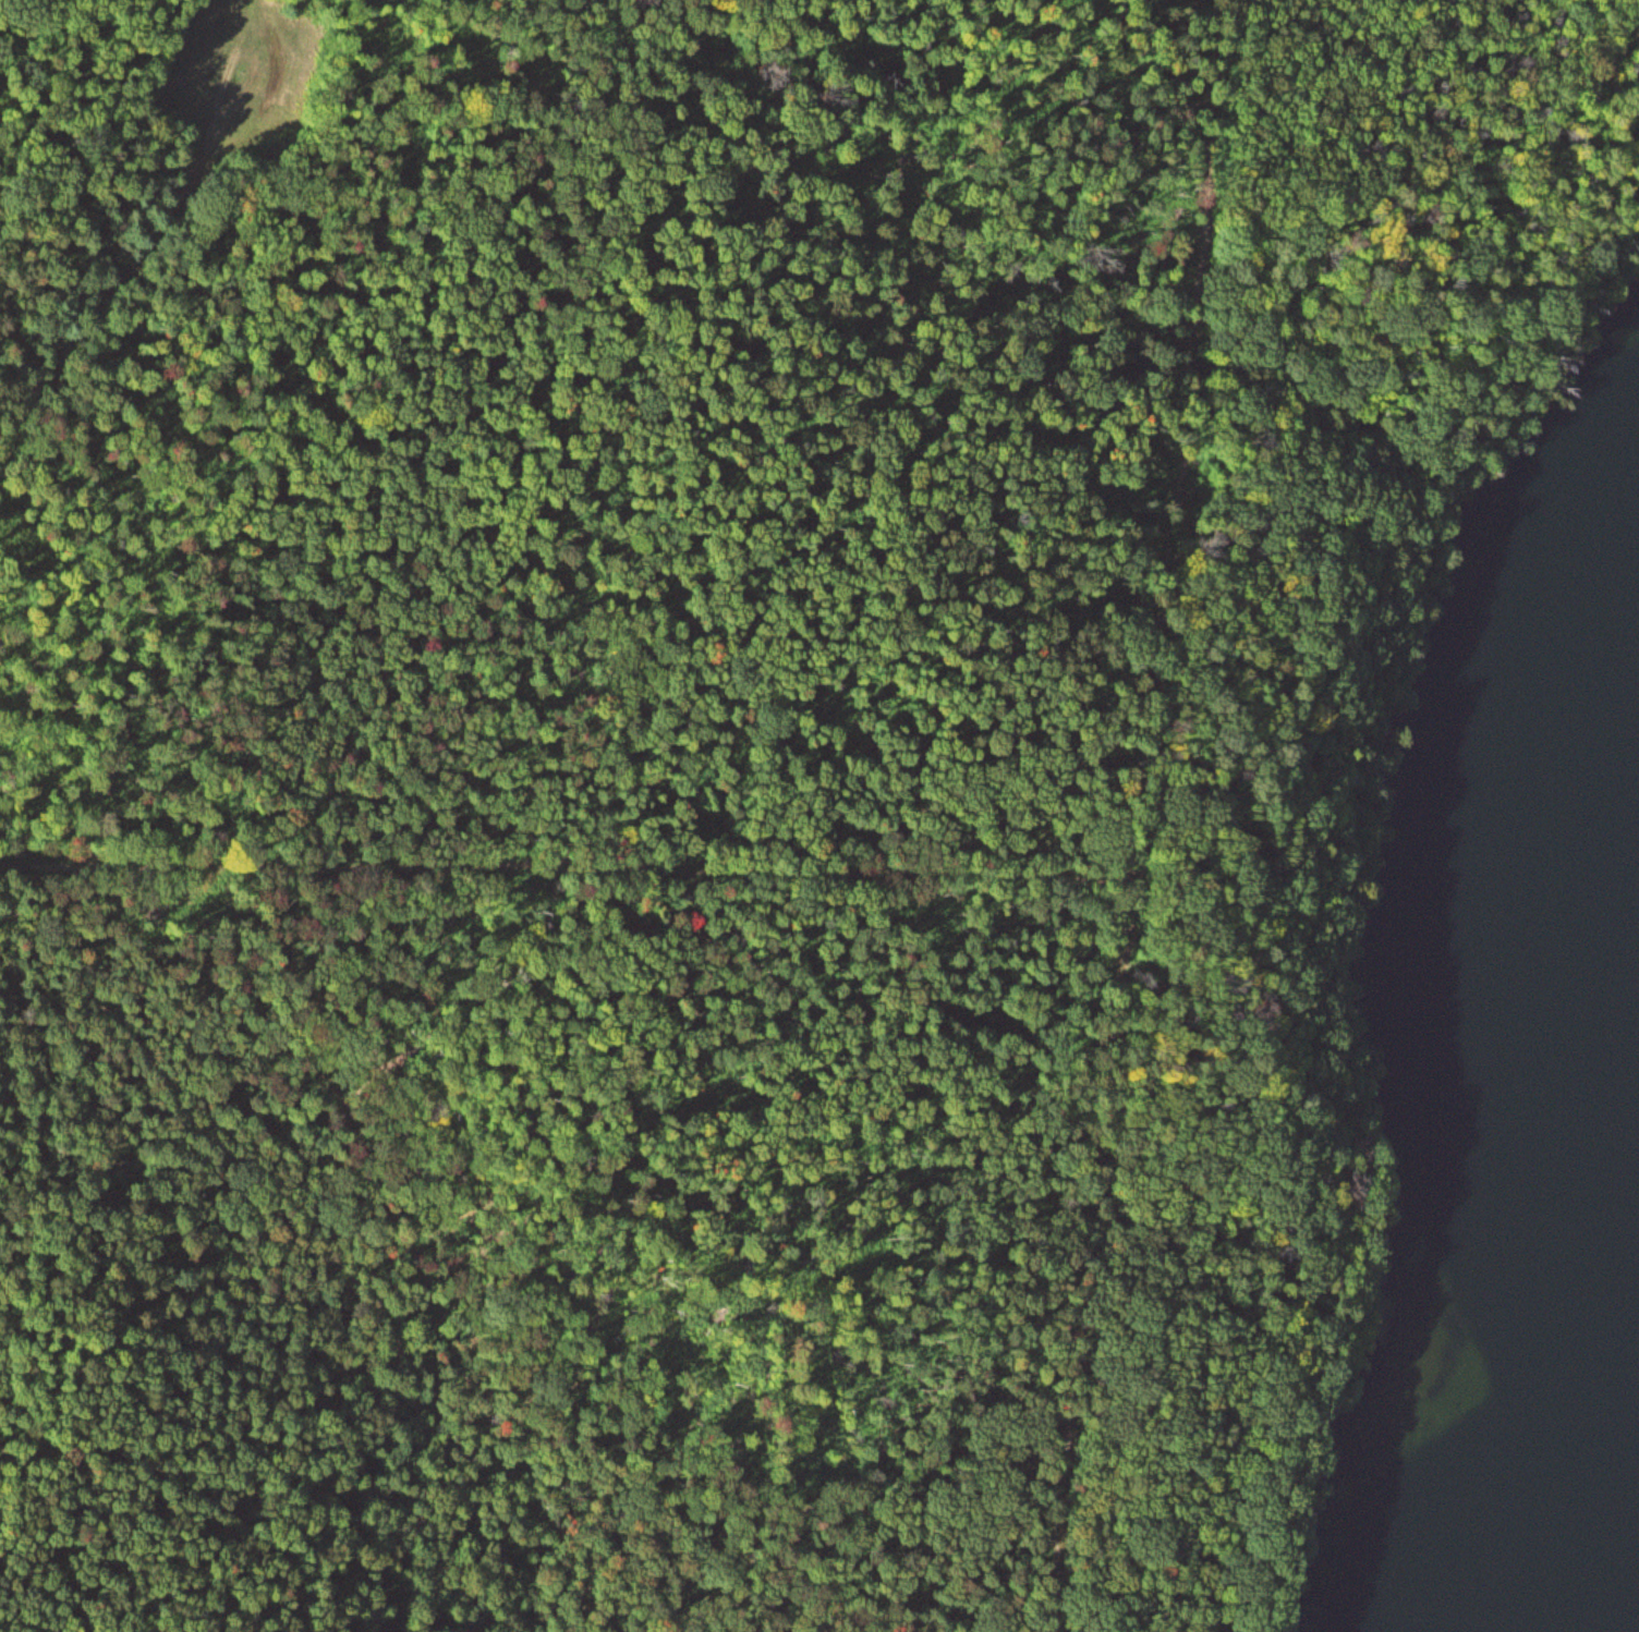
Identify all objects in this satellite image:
road: (142, 264)
road: (304, 1230)
road: (679, 1486)

